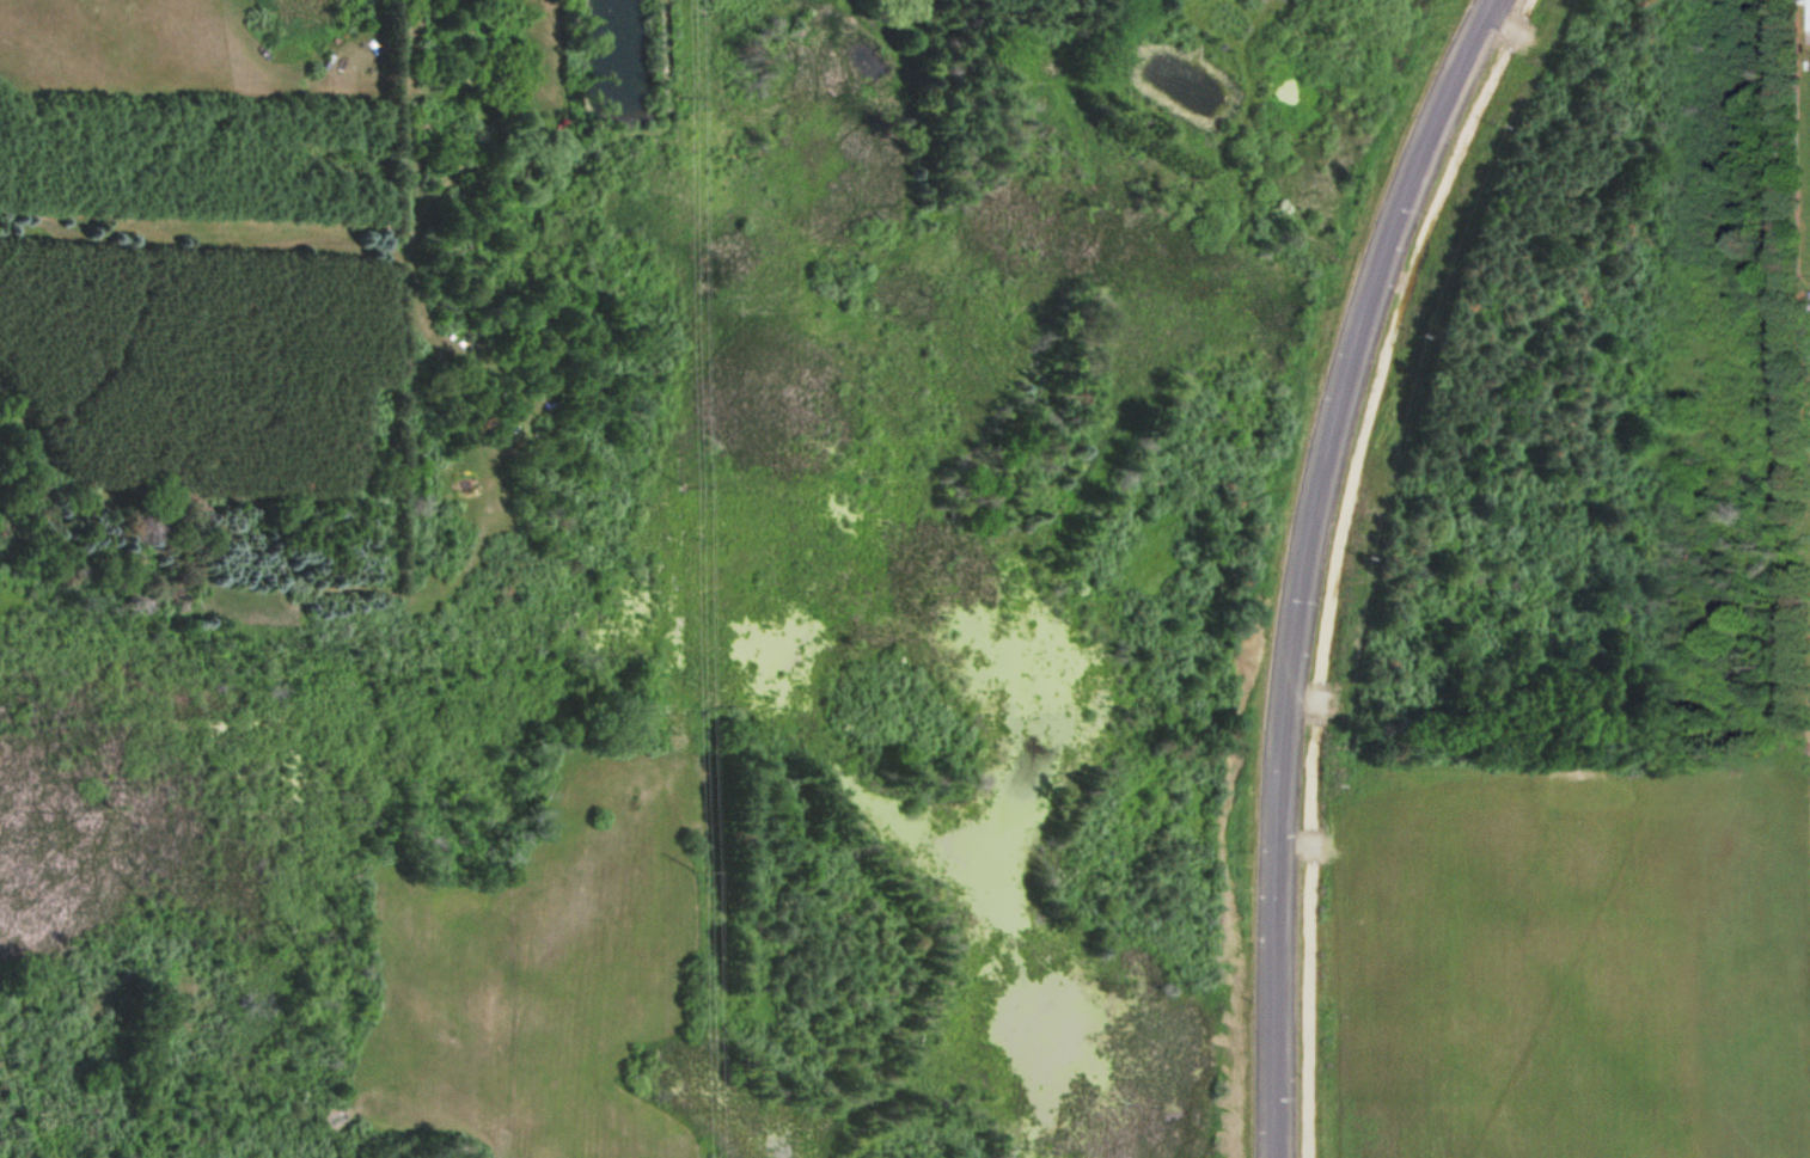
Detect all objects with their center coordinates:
road: (1301, 563)

